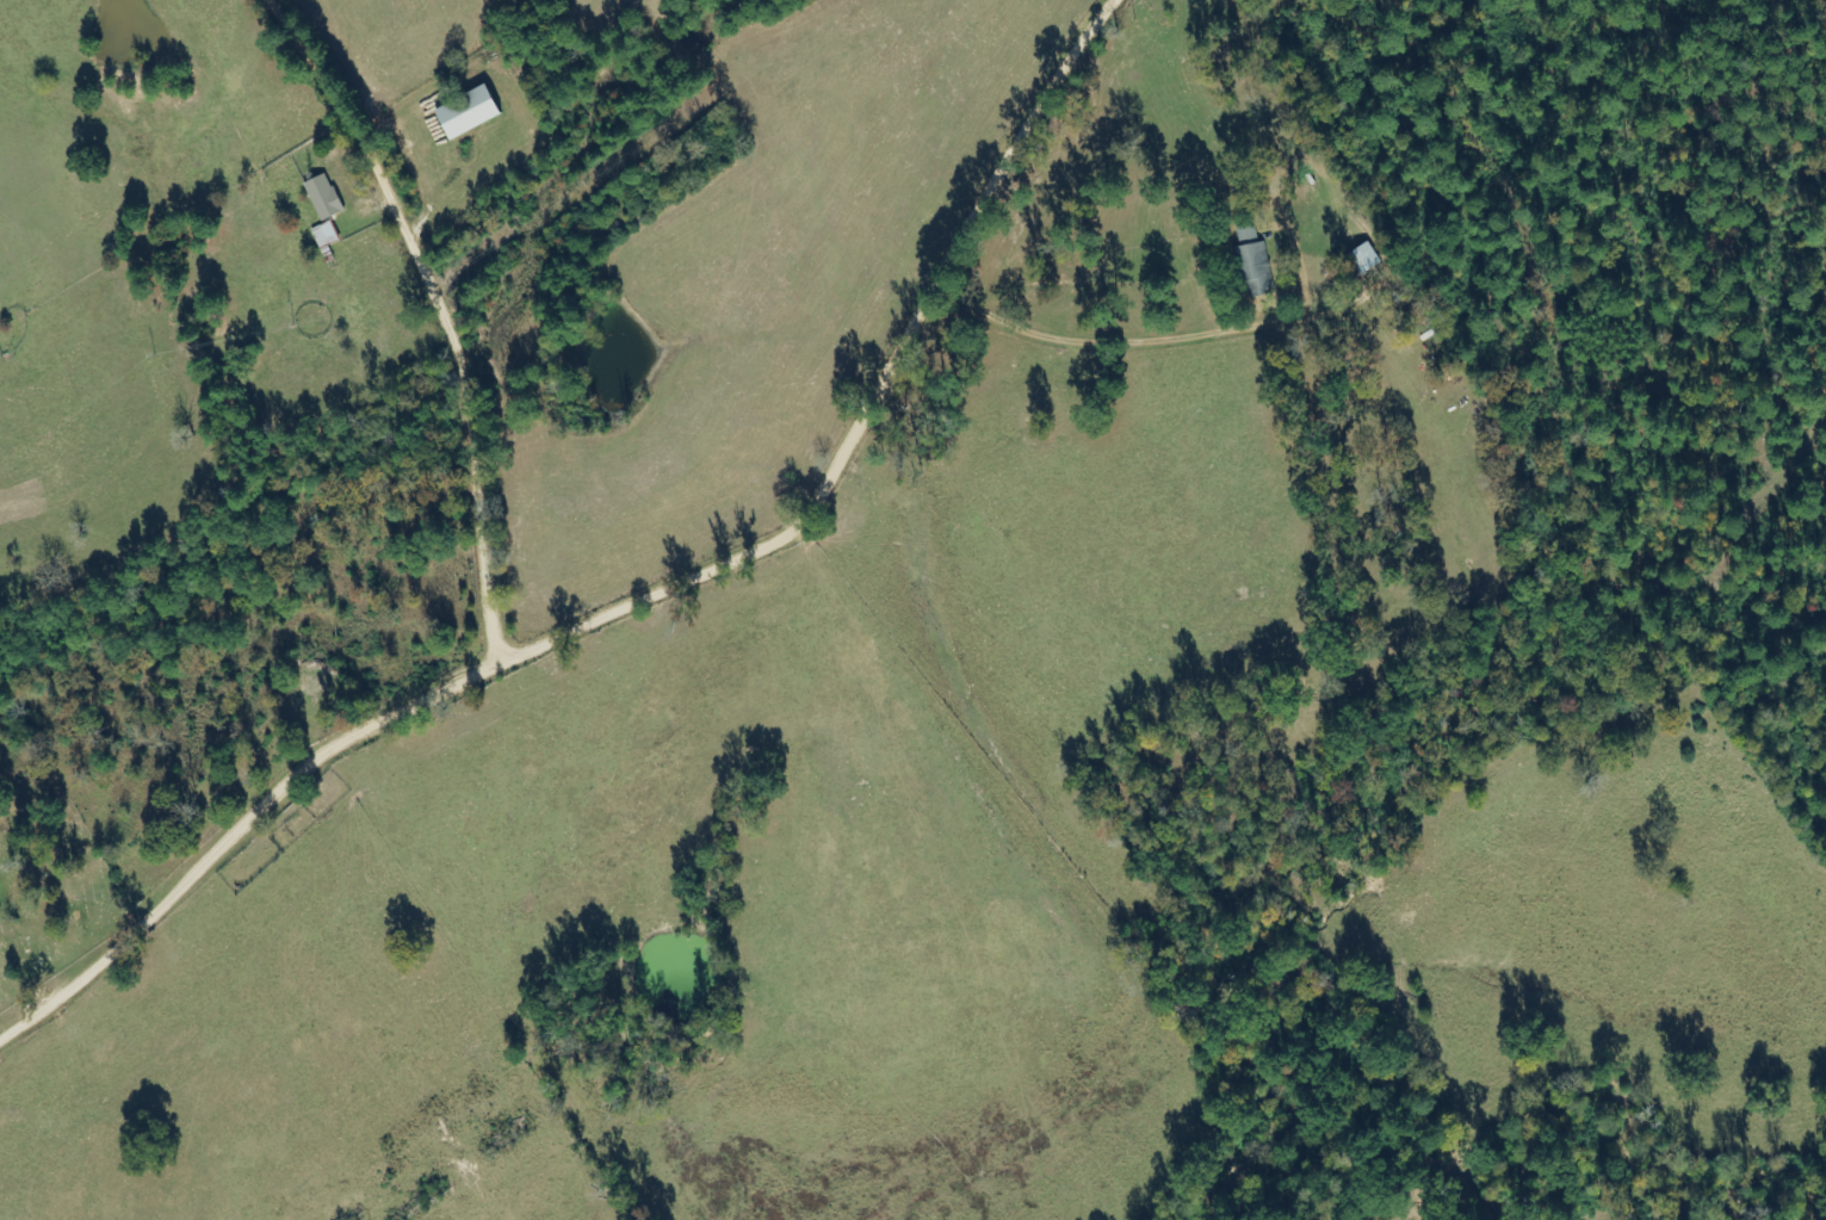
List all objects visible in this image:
building: (463, 112)
building: (321, 198)
building: (323, 235)
building: (1361, 260)
building: (1252, 264)
road: (411, 315)
road: (624, 587)
park: (48, 888)

